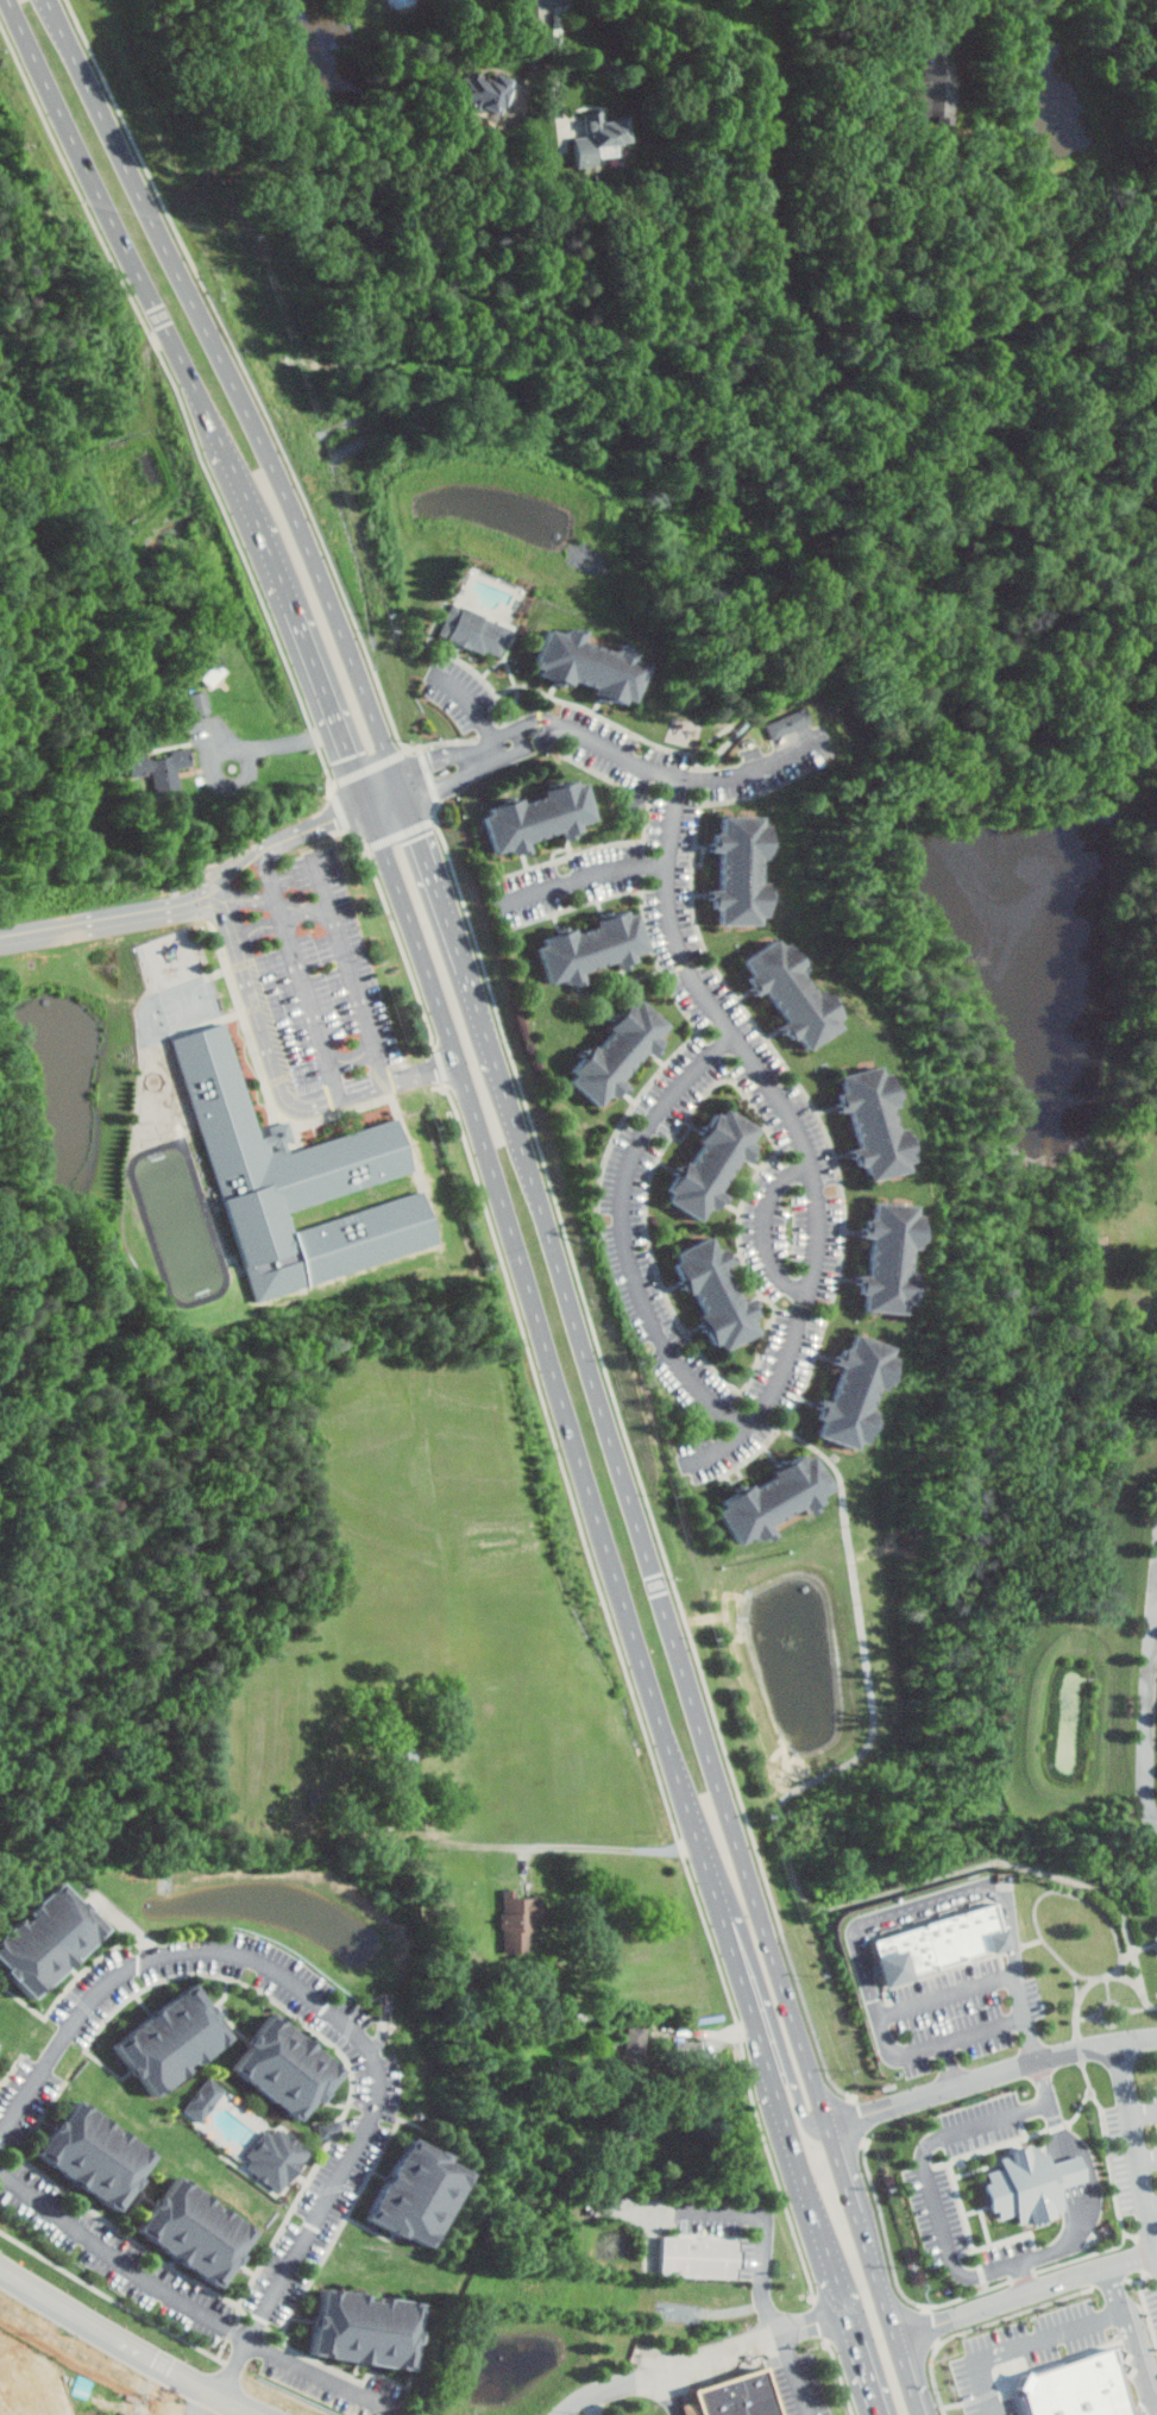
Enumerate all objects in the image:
building: (464, 0)
road: (1013, 11)
road: (560, 67)
building: (933, 88)
building: (485, 89)
building: (597, 134)
road: (117, 222)
road: (231, 383)
road: (238, 483)
building: (474, 629)
road: (314, 660)
building: (591, 665)
building: (199, 702)
road: (479, 705)
building: (786, 722)
road: (510, 729)
road: (285, 742)
traffic signals: (353, 756)
traffic signals: (438, 760)
road: (428, 762)
building: (165, 771)
road: (472, 775)
road: (686, 778)
road: (402, 786)
road: (384, 787)
traffic signals: (339, 817)
building: (545, 817)
road: (289, 836)
traffic signals: (422, 837)
road: (425, 847)
building: (748, 870)
road: (590, 878)
road: (323, 885)
road: (111, 916)
road: (341, 943)
building: (599, 948)
road: (301, 974)
road: (476, 992)
building: (798, 994)
building: (625, 1051)
road: (279, 1081)
building: (879, 1122)
road: (801, 1127)
building: (719, 1164)
building: (296, 1182)
park: (182, 1224)
road: (771, 1226)
road: (629, 1232)
building: (895, 1258)
building: (723, 1294)
road: (542, 1320)
building: (860, 1392)
building: (781, 1501)
road: (667, 1606)
road: (1150, 1734)
road: (781, 1832)
road: (606, 1847)
road: (1040, 1894)
building: (526, 1919)
road: (725, 1919)
road: (868, 1919)
building: (51, 1936)
building: (919, 1945)
road: (960, 1964)
road: (1131, 1980)
road: (1076, 1986)
road: (1111, 1989)
road: (943, 1995)
road: (884, 1999)
road: (1108, 2002)
road: (331, 2010)
road: (1139, 2010)
road: (1132, 2014)
road: (1092, 2018)
road: (1099, 2019)
building: (175, 2033)
building: (0, 2044)
road: (766, 2045)
building: (296, 2064)
road: (787, 2064)
road: (947, 2064)
road: (991, 2074)
building: (202, 2098)
road: (1092, 2099)
road: (1145, 2109)
road: (1138, 2133)
building: (102, 2152)
building: (282, 2157)
road: (1150, 2157)
road: (845, 2180)
building: (1029, 2183)
building: (417, 2187)
road: (816, 2202)
road: (1155, 2203)
building: (195, 2227)
road: (766, 2249)
building: (704, 2257)
road: (986, 2271)
road: (1025, 2277)
road: (879, 2285)
road: (1025, 2294)
road: (189, 2298)
building: (364, 2322)
road: (1046, 2335)
road: (128, 2344)
road: (703, 2356)
road: (1139, 2356)
road: (867, 2363)
road: (907, 2376)
building: (1074, 2386)
road: (674, 2391)
building: (746, 2395)
road: (593, 2405)
road: (1151, 2408)

